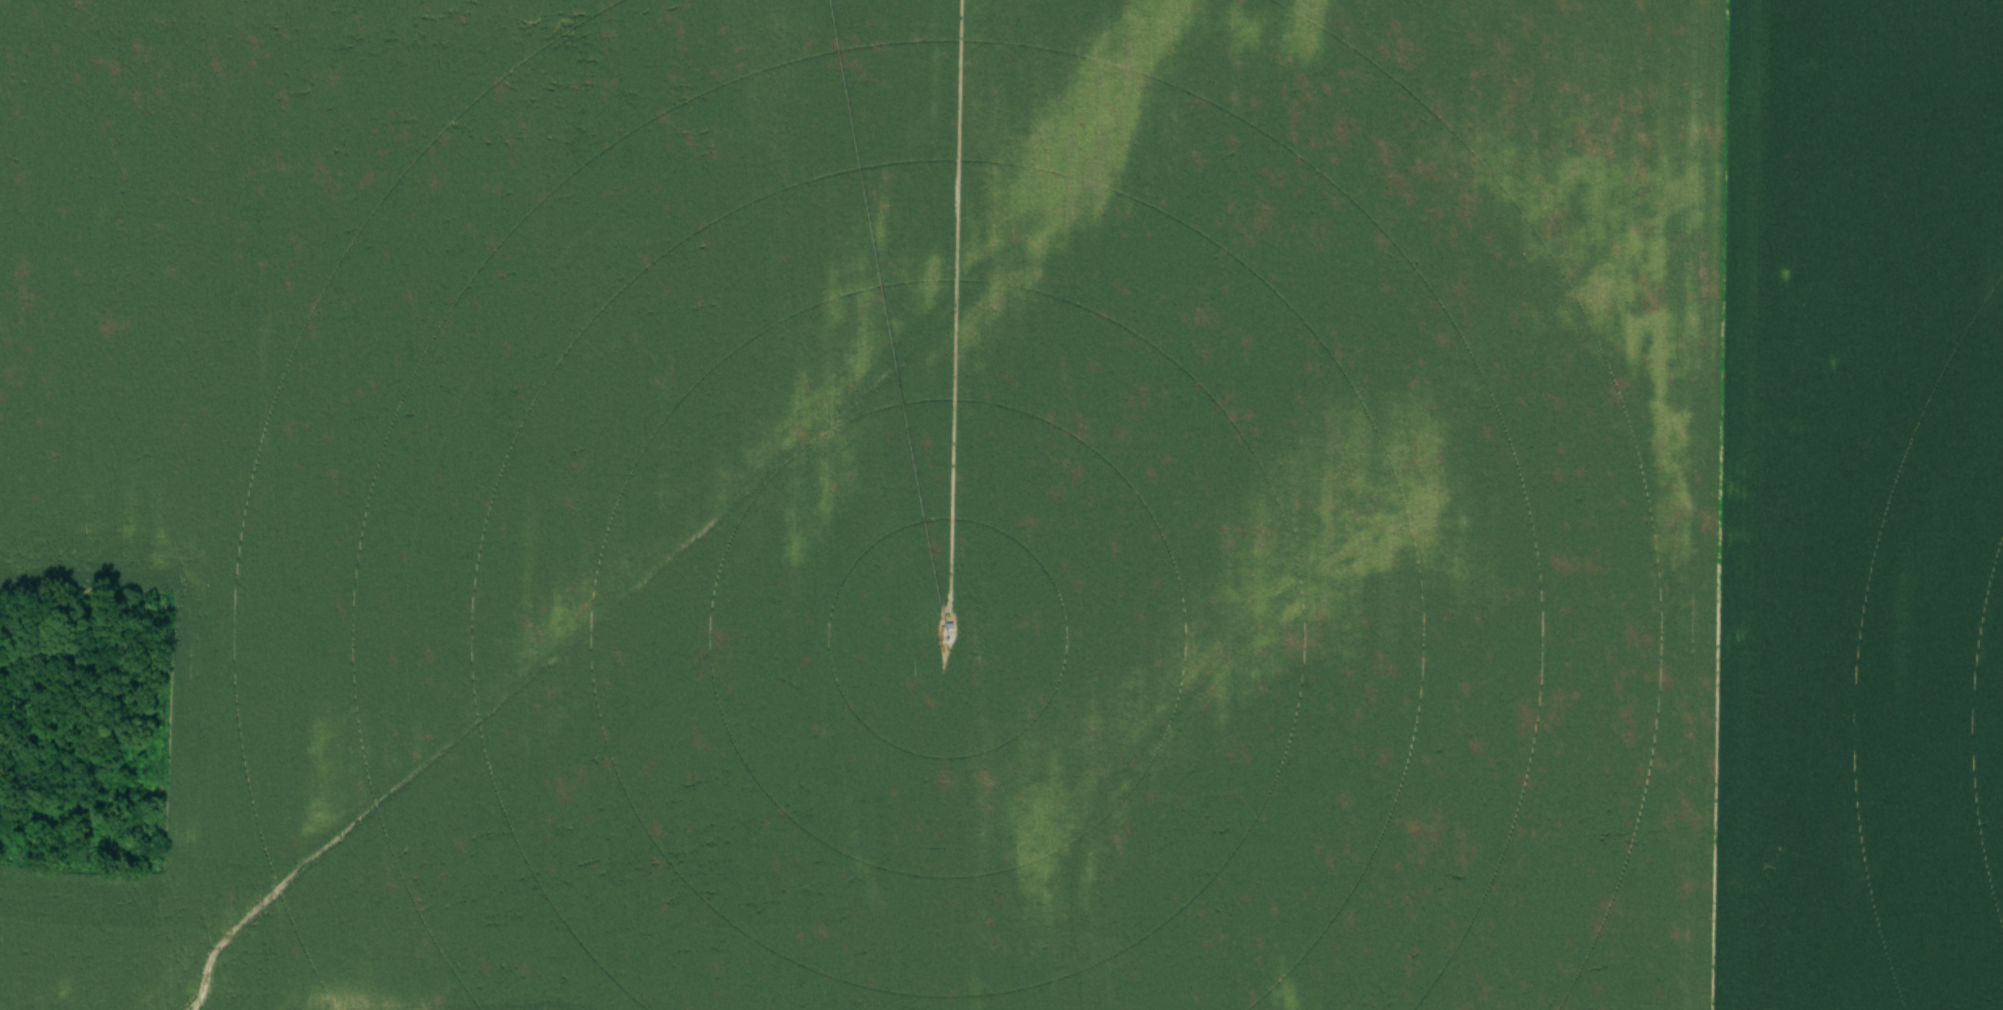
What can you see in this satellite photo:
park: (83, 727)

